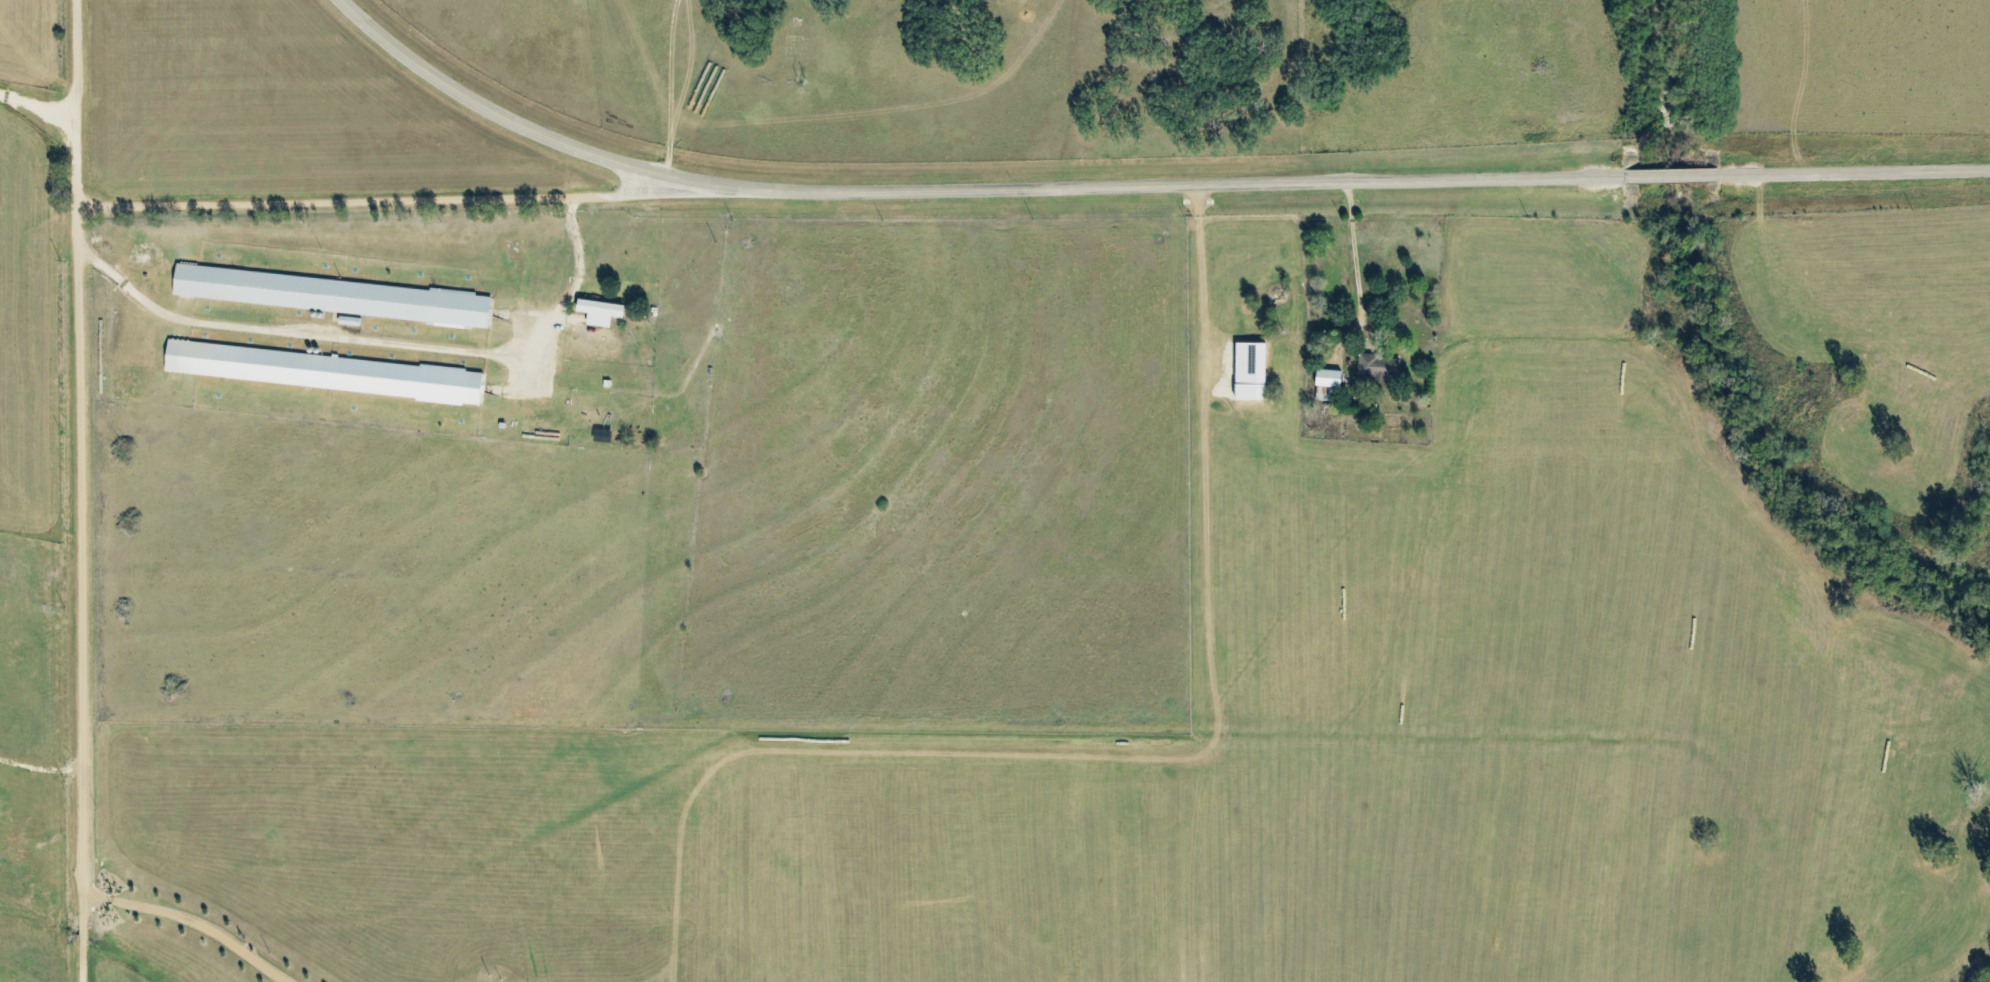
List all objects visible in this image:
road: (82, 105)
road: (41, 109)
road: (1140, 184)
road: (418, 200)
building: (332, 295)
building: (601, 311)
building: (1372, 366)
building: (324, 371)
building: (1251, 371)
building: (1329, 378)
road: (86, 592)

